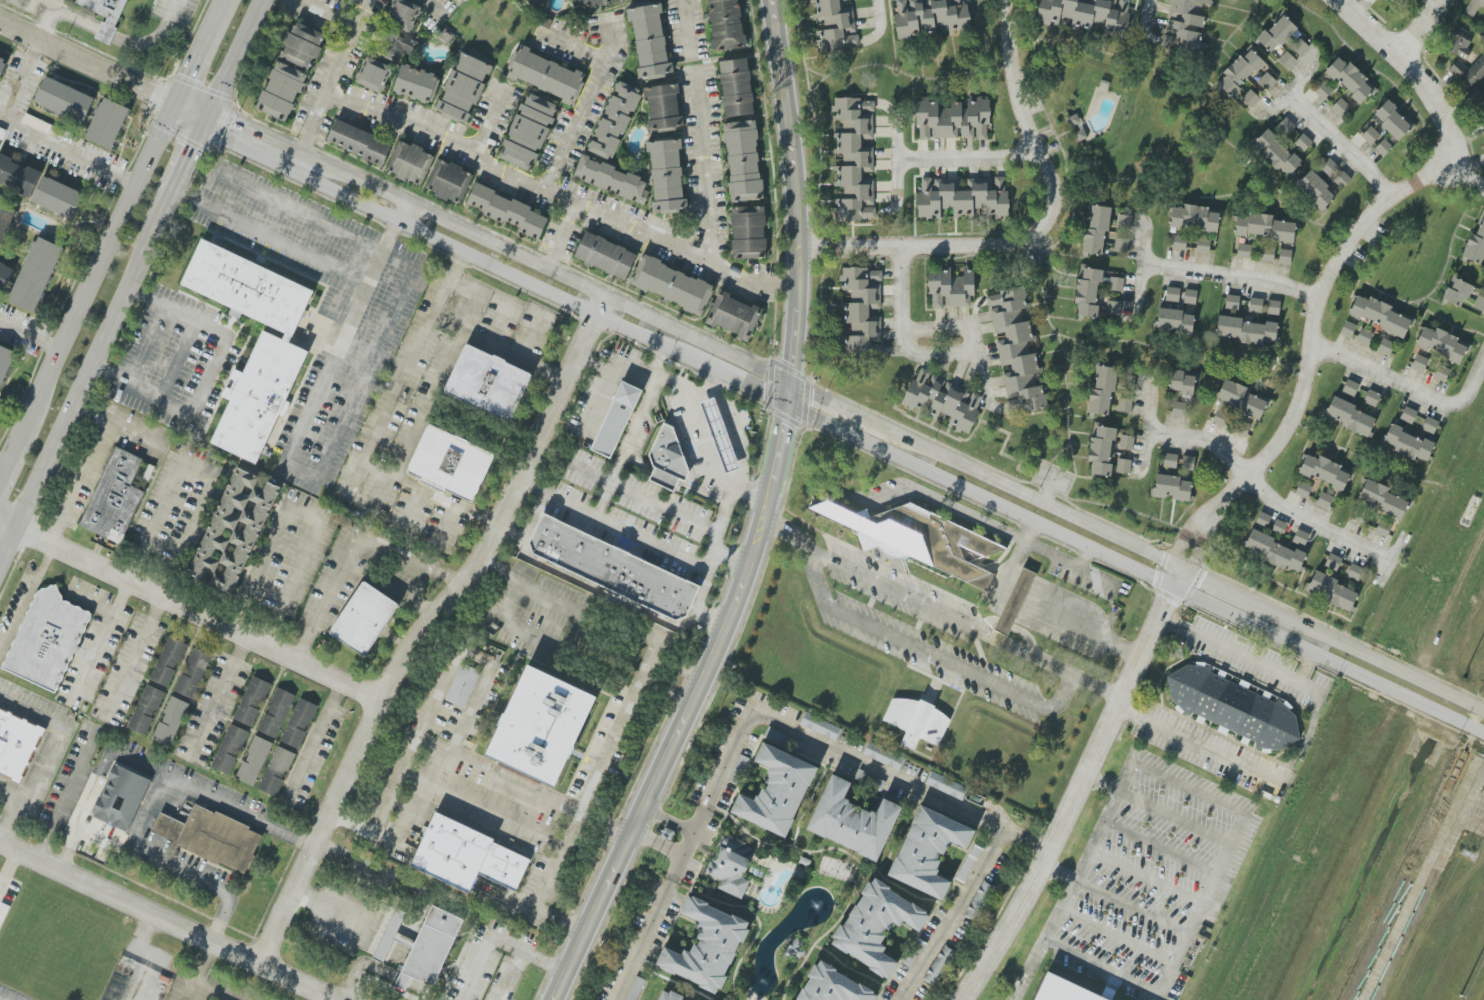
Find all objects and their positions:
building: (459, 0)
building: (533, 2)
building: (595, 2)
road: (36, 5)
road: (219, 6)
building: (106, 7)
building: (1473, 7)
parking lot: (38, 8)
road: (434, 9)
parking lot: (178, 12)
road: (877, 12)
road: (361, 14)
building: (403, 14)
building: (1088, 14)
road: (1146, 15)
building: (930, 16)
road: (43, 18)
road: (72, 20)
building: (726, 24)
building: (835, 25)
building: (1186, 25)
road: (686, 28)
building: (1482, 28)
road: (1417, 29)
road: (106, 34)
building: (1276, 34)
road: (155, 36)
road: (606, 37)
building: (649, 41)
building: (1459, 42)
building: (302, 45)
building: (396, 45)
building: (1299, 47)
road: (196, 58)
building: (1286, 60)
road: (87, 62)
road: (236, 62)
building: (2, 64)
building: (1457, 69)
building: (1239, 72)
building: (1474, 72)
road: (1411, 73)
road: (895, 74)
building: (373, 75)
building: (546, 75)
building: (1351, 80)
road: (22, 82)
building: (1266, 82)
building: (416, 84)
building: (464, 87)
building: (736, 88)
road: (1288, 89)
building: (281, 91)
building: (1323, 91)
road: (588, 93)
building: (1250, 98)
building: (64, 100)
building: (1481, 102)
traffic signals: (175, 105)
building: (663, 107)
building: (1341, 108)
road: (486, 119)
building: (953, 119)
building: (615, 120)
building: (1393, 121)
building: (107, 123)
traffic signals: (207, 125)
building: (1077, 127)
building: (1286, 127)
road: (310, 129)
building: (528, 131)
building: (1370, 135)
road: (231, 136)
building: (359, 142)
building: (1303, 142)
road: (1340, 142)
building: (1383, 147)
building: (1275, 153)
road: (68, 154)
building: (855, 159)
road: (896, 159)
road: (967, 159)
building: (743, 161)
building: (410, 163)
road: (493, 163)
road: (188, 164)
road: (703, 168)
building: (1329, 168)
building: (18, 176)
road: (1465, 176)
building: (667, 177)
building: (1341, 179)
building: (612, 180)
building: (449, 181)
building: (1315, 190)
building: (57, 197)
building: (963, 197)
road: (790, 202)
building: (508, 212)
building: (1194, 218)
road: (313, 219)
building: (5, 221)
building: (1263, 227)
building: (1096, 228)
building: (748, 232)
road: (1034, 232)
road: (560, 237)
road: (271, 240)
building: (1179, 242)
building: (1476, 242)
building: (1203, 246)
building: (1244, 251)
building: (605, 255)
building: (1267, 255)
building: (1285, 256)
road: (1140, 265)
road: (540, 267)
road: (497, 270)
building: (4, 274)
road: (94, 274)
road: (1230, 274)
building: (36, 275)
building: (243, 284)
building: (1116, 284)
building: (672, 285)
building: (950, 288)
building: (1088, 291)
building: (1457, 292)
building: (1172, 294)
building: (1190, 297)
building: (1232, 302)
building: (1479, 303)
building: (1256, 305)
building: (861, 307)
building: (1273, 307)
building: (1113, 309)
parking lot: (321, 311)
building: (1380, 315)
building: (734, 316)
building: (1174, 321)
building: (1348, 329)
road: (968, 331)
building: (1246, 331)
road: (900, 332)
road: (345, 335)
road: (29, 336)
building: (1364, 337)
building: (1442, 344)
road: (144, 346)
building: (1385, 347)
road: (496, 351)
building: (1016, 351)
road: (1307, 358)
parking lot: (170, 361)
building: (5, 362)
road: (177, 362)
road: (657, 362)
building: (1419, 363)
road: (405, 373)
building: (1441, 373)
road: (206, 377)
traffic signals: (786, 382)
building: (1183, 382)
building: (485, 383)
road: (672, 383)
road: (85, 384)
road: (713, 385)
road: (1407, 386)
road: (746, 387)
building: (1350, 388)
road: (360, 390)
building: (1102, 390)
building: (253, 395)
building: (1371, 398)
building: (1241, 399)
building: (943, 400)
parking lot: (431, 401)
road: (826, 401)
road: (427, 405)
traffic signals: (785, 405)
building: (1125, 405)
building: (1179, 409)
building: (1408, 415)
building: (1351, 417)
building: (611, 420)
building: (1230, 421)
road: (117, 424)
building: (1430, 425)
road: (1146, 428)
building: (716, 435)
road: (702, 439)
building: (1127, 442)
building: (1407, 444)
road: (625, 447)
building: (1101, 449)
building: (665, 453)
road: (7, 459)
building: (1170, 460)
building: (1188, 463)
road: (2, 465)
building: (446, 466)
building: (1123, 466)
road: (199, 469)
building: (1325, 472)
road: (76, 482)
building: (1171, 487)
building: (1303, 490)
road: (432, 493)
road: (1266, 494)
building: (114, 496)
road: (1023, 496)
road: (643, 497)
building: (1382, 499)
building: (1324, 501)
road: (303, 513)
building: (1263, 519)
road: (613, 525)
building: (1279, 527)
road: (989, 528)
building: (1383, 528)
building: (233, 531)
building: (1300, 537)
building: (919, 538)
road: (351, 550)
building: (1273, 551)
road: (1391, 558)
road: (728, 559)
road: (1085, 559)
building: (1333, 562)
building: (609, 567)
road: (1133, 569)
traffic signals: (1179, 571)
building: (1354, 573)
road: (1175, 579)
traffic signals: (1171, 587)
road: (1220, 589)
building: (1330, 591)
road: (26, 601)
building: (1015, 601)
road: (91, 602)
road: (1031, 610)
road: (190, 612)
road: (938, 612)
building: (361, 614)
road: (658, 619)
road: (709, 619)
road: (426, 625)
parking lot: (913, 626)
building: (44, 639)
road: (99, 644)
road: (931, 656)
road: (1241, 658)
road: (1374, 659)
road: (132, 660)
building: (168, 662)
road: (1304, 669)
parking lot: (126, 671)
building: (193, 673)
building: (461, 685)
road: (215, 700)
building: (252, 701)
road: (685, 707)
building: (1231, 707)
building: (146, 710)
parking lot: (211, 711)
road: (625, 711)
building: (276, 713)
road: (467, 720)
building: (170, 721)
building: (537, 721)
building: (916, 721)
building: (298, 723)
building: (820, 726)
parking lot: (38, 743)
building: (15, 745)
road: (315, 745)
road: (1197, 746)
building: (229, 749)
road: (45, 752)
parking lot: (311, 756)
building: (883, 756)
building: (254, 761)
building: (276, 771)
building: (737, 772)
road: (155, 773)
road: (1125, 778)
road: (1101, 784)
road: (914, 785)
building: (946, 786)
road: (1187, 790)
road: (8, 792)
road: (66, 792)
building: (775, 792)
building: (117, 797)
road: (1073, 797)
road: (481, 809)
road: (1174, 818)
road: (667, 819)
road: (600, 825)
building: (846, 825)
road: (1236, 830)
building: (207, 837)
road: (1024, 839)
road: (690, 841)
power tower: (1471, 841)
road: (656, 844)
road: (1160, 847)
building: (921, 852)
building: (463, 856)
road: (168, 860)
building: (969, 864)
building: (729, 865)
road: (9, 870)
road: (1058, 873)
road: (1145, 879)
parking lot: (1147, 881)
parking lot: (6, 895)
road: (1066, 897)
building: (980, 901)
road: (1202, 903)
fountain: (817, 907)
road: (1131, 909)
building: (3, 912)
road: (169, 919)
building: (870, 928)
building: (391, 936)
road: (1117, 937)
road: (644, 939)
road: (497, 942)
building: (700, 945)
building: (426, 946)
parking lot: (488, 962)
building: (939, 965)
road: (1103, 967)
road: (198, 969)
road: (510, 977)
road: (371, 978)
road: (1168, 979)
fountain: (764, 981)
building: (827, 986)
parking lot: (208, 987)
building: (1061, 990)
road: (211, 991)
parking lot: (10, 995)
road: (900, 995)
building: (664, 997)
road: (336, 999)

